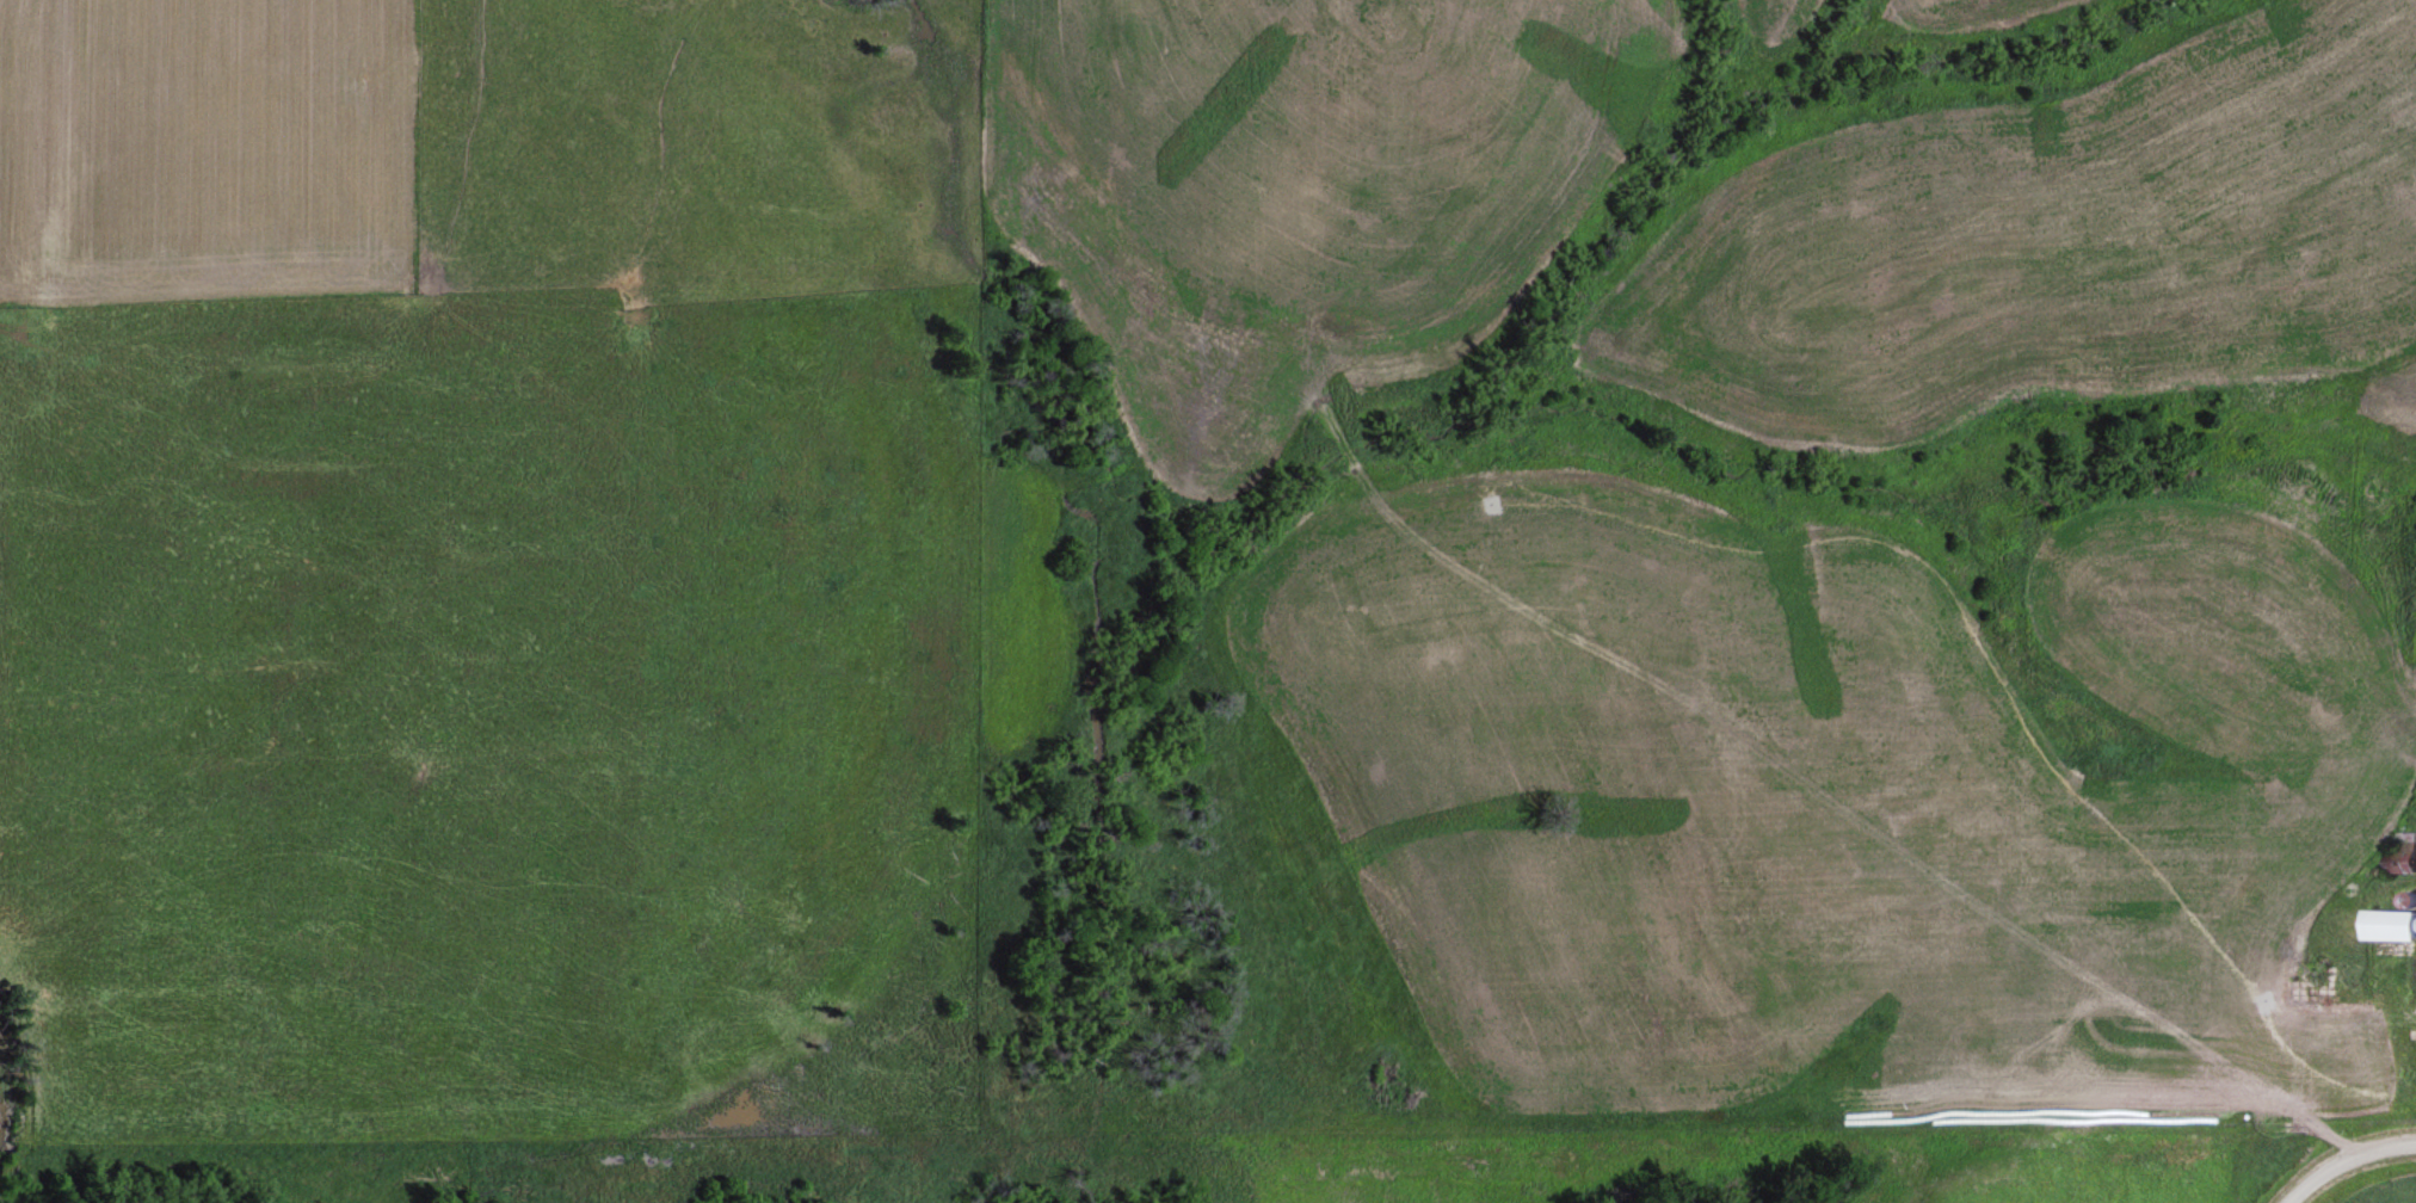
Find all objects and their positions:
road: (2344, 1158)

